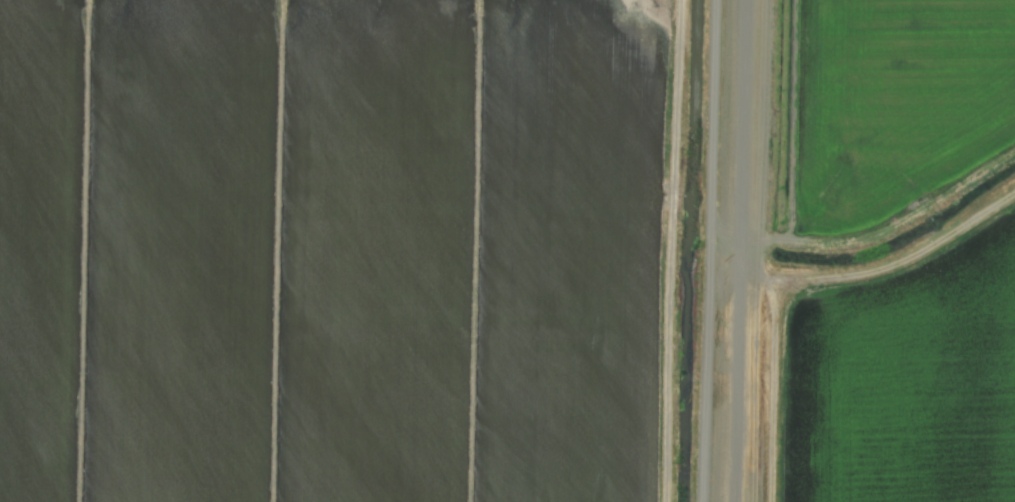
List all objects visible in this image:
road: (709, 125)
crop: (507, 251)

